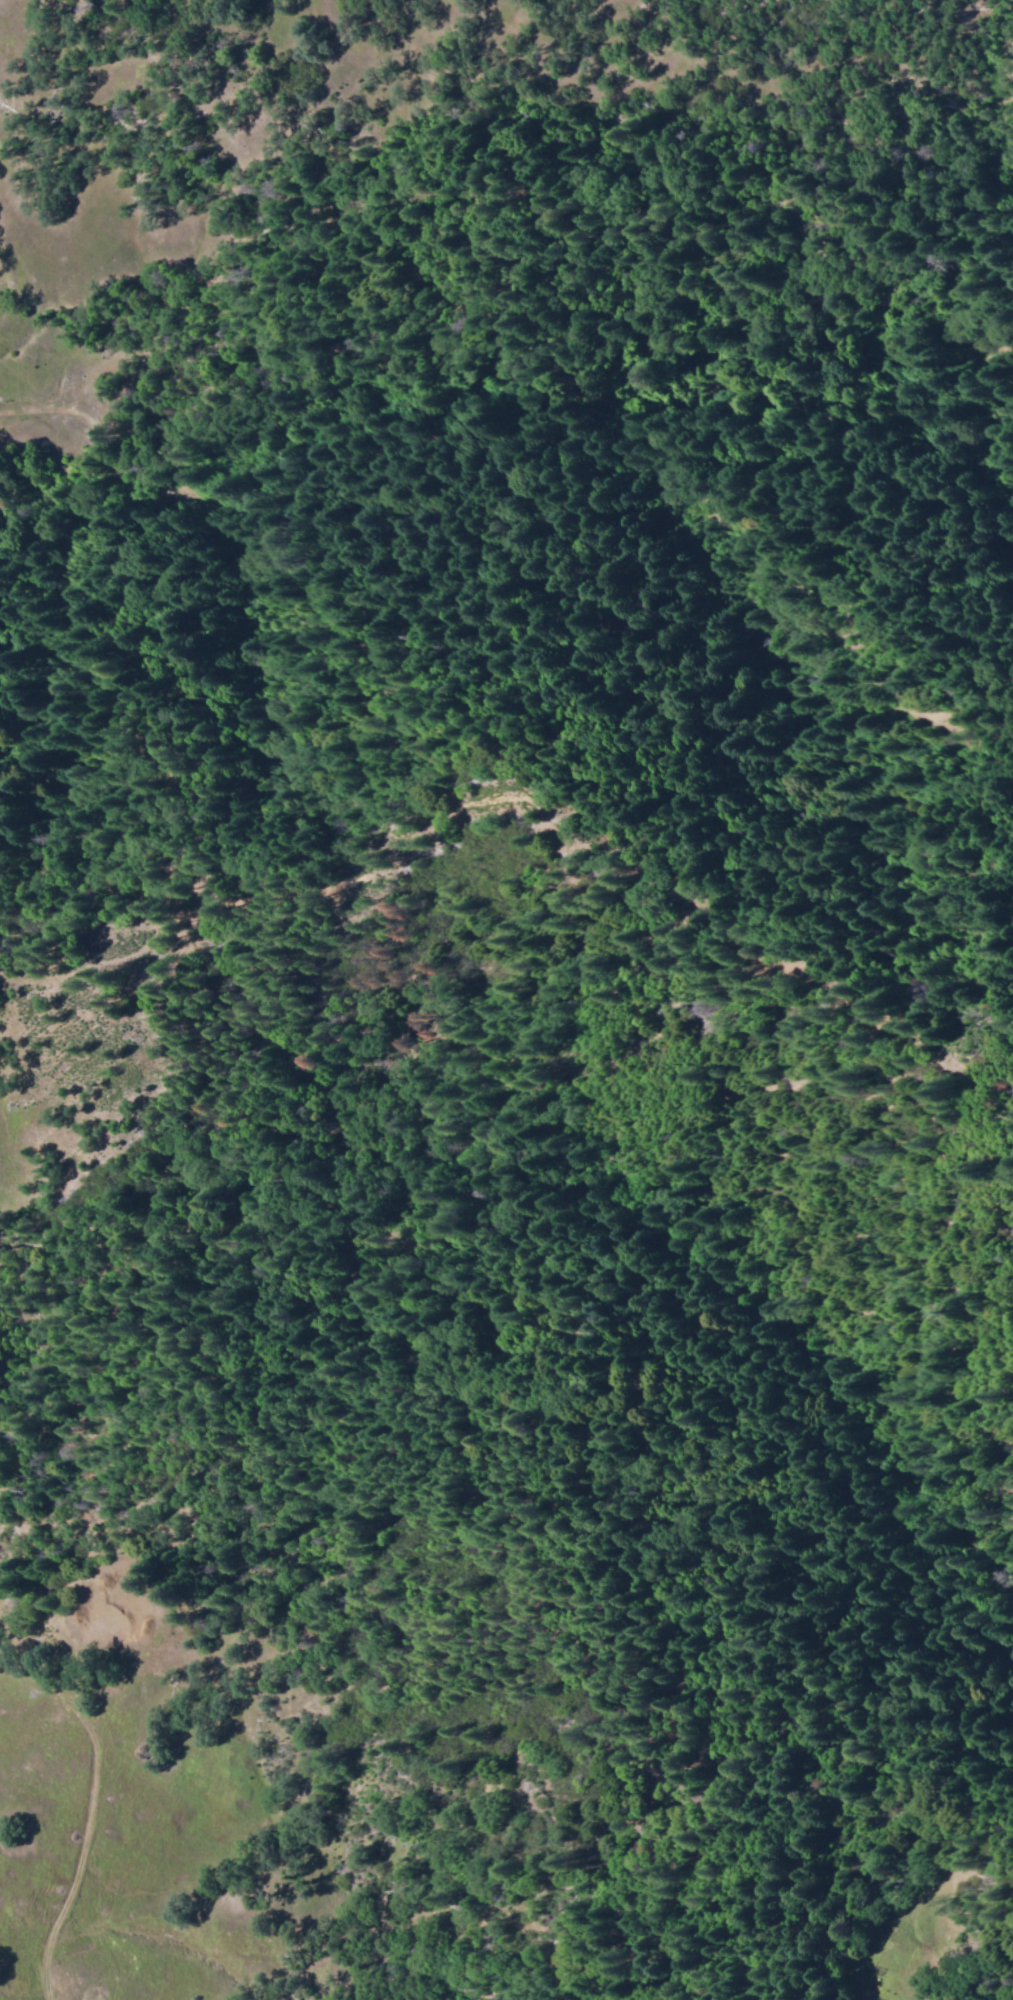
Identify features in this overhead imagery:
road: (98, 1783)

